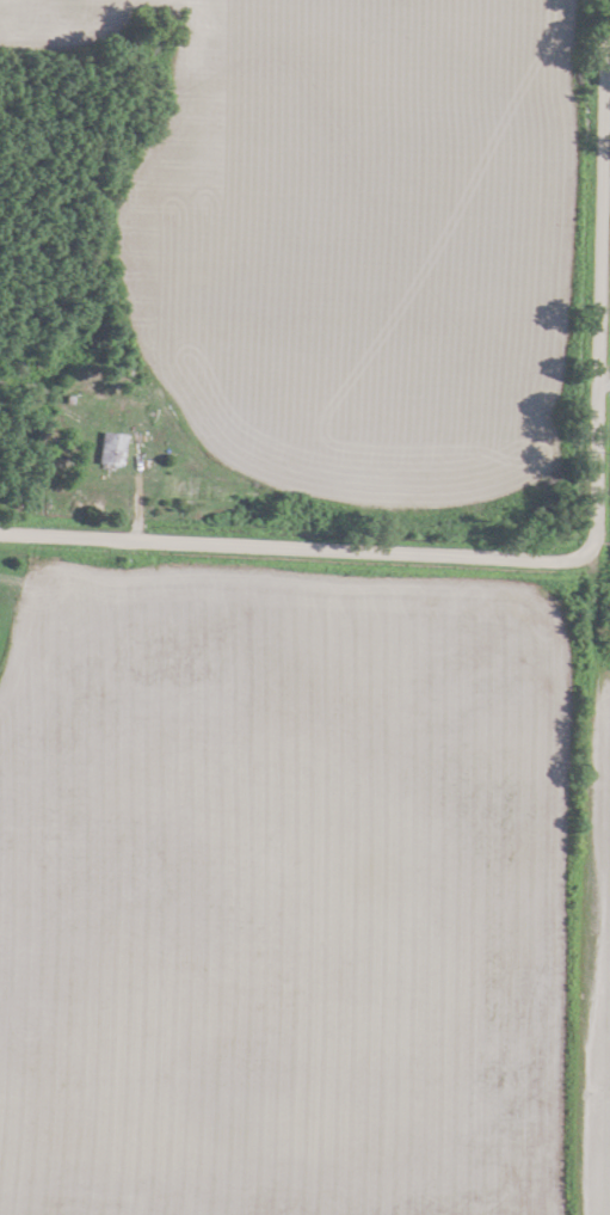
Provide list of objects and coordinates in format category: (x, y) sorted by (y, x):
road: (602, 191)
road: (604, 385)
building: (107, 448)
road: (378, 551)

